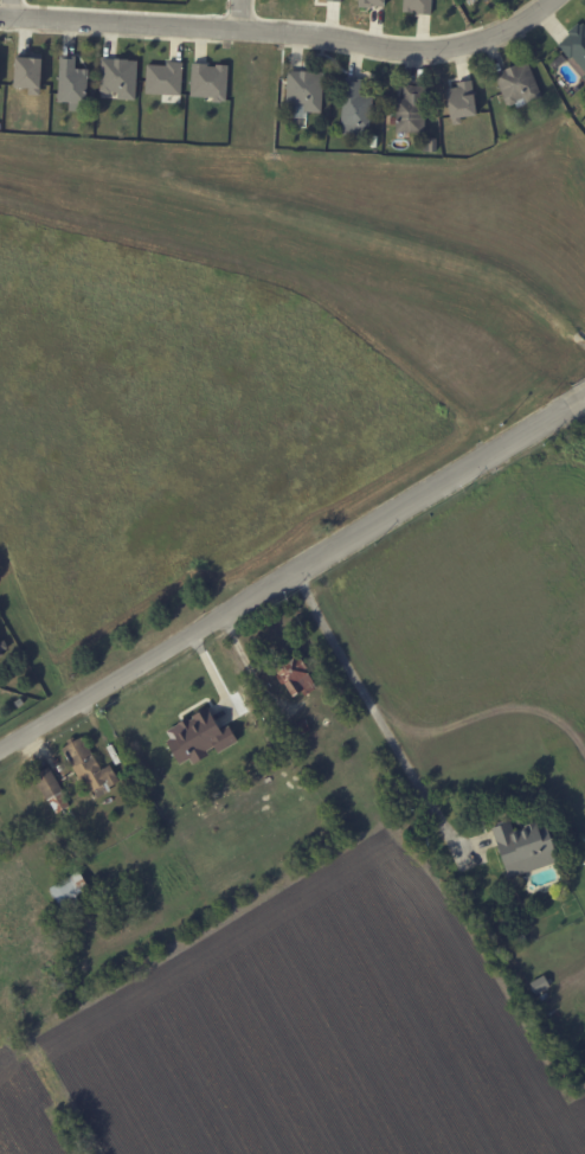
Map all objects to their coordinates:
building: (328, 0)
building: (368, 2)
building: (416, 6)
road: (11, 8)
road: (240, 15)
road: (283, 33)
building: (574, 46)
building: (24, 73)
building: (117, 77)
building: (161, 78)
building: (207, 81)
building: (70, 82)
building: (516, 84)
building: (302, 90)
building: (458, 101)
building: (355, 109)
building: (409, 110)
road: (291, 570)
building: (1, 649)
building: (290, 675)
road: (379, 709)
building: (194, 737)
building: (86, 765)
building: (50, 790)
building: (520, 847)
building: (69, 893)

